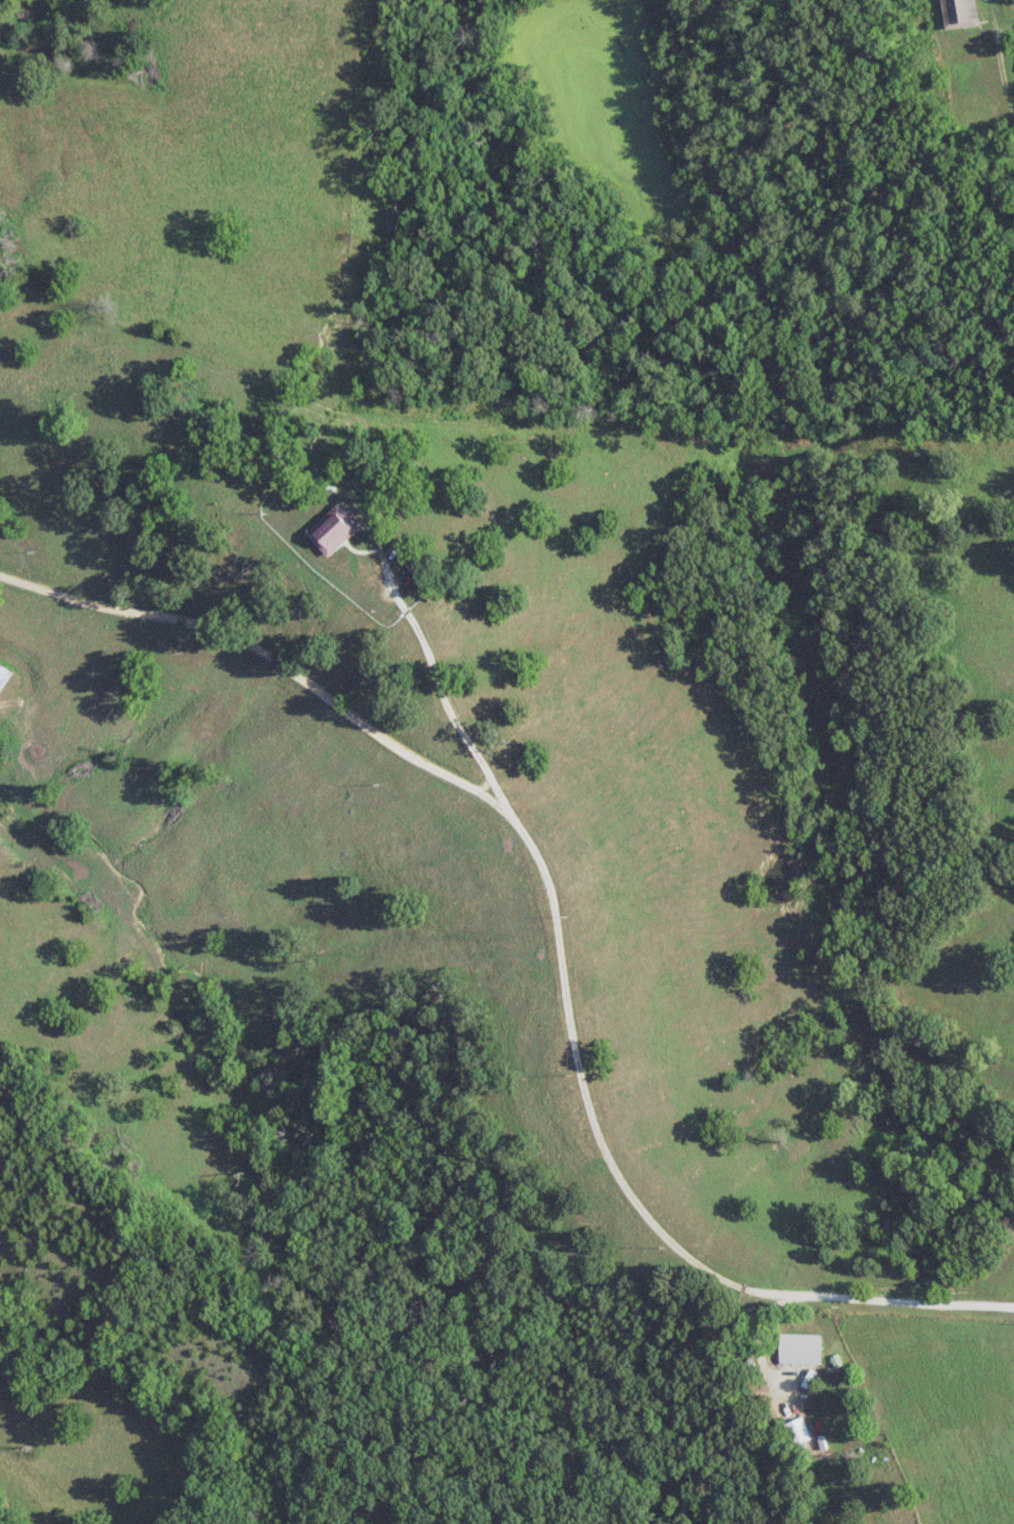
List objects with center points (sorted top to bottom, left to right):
building: (956, 13)
road: (998, 65)
building: (333, 529)
road: (436, 672)
building: (3, 673)
road: (559, 927)
building: (798, 1348)
building: (795, 1431)

